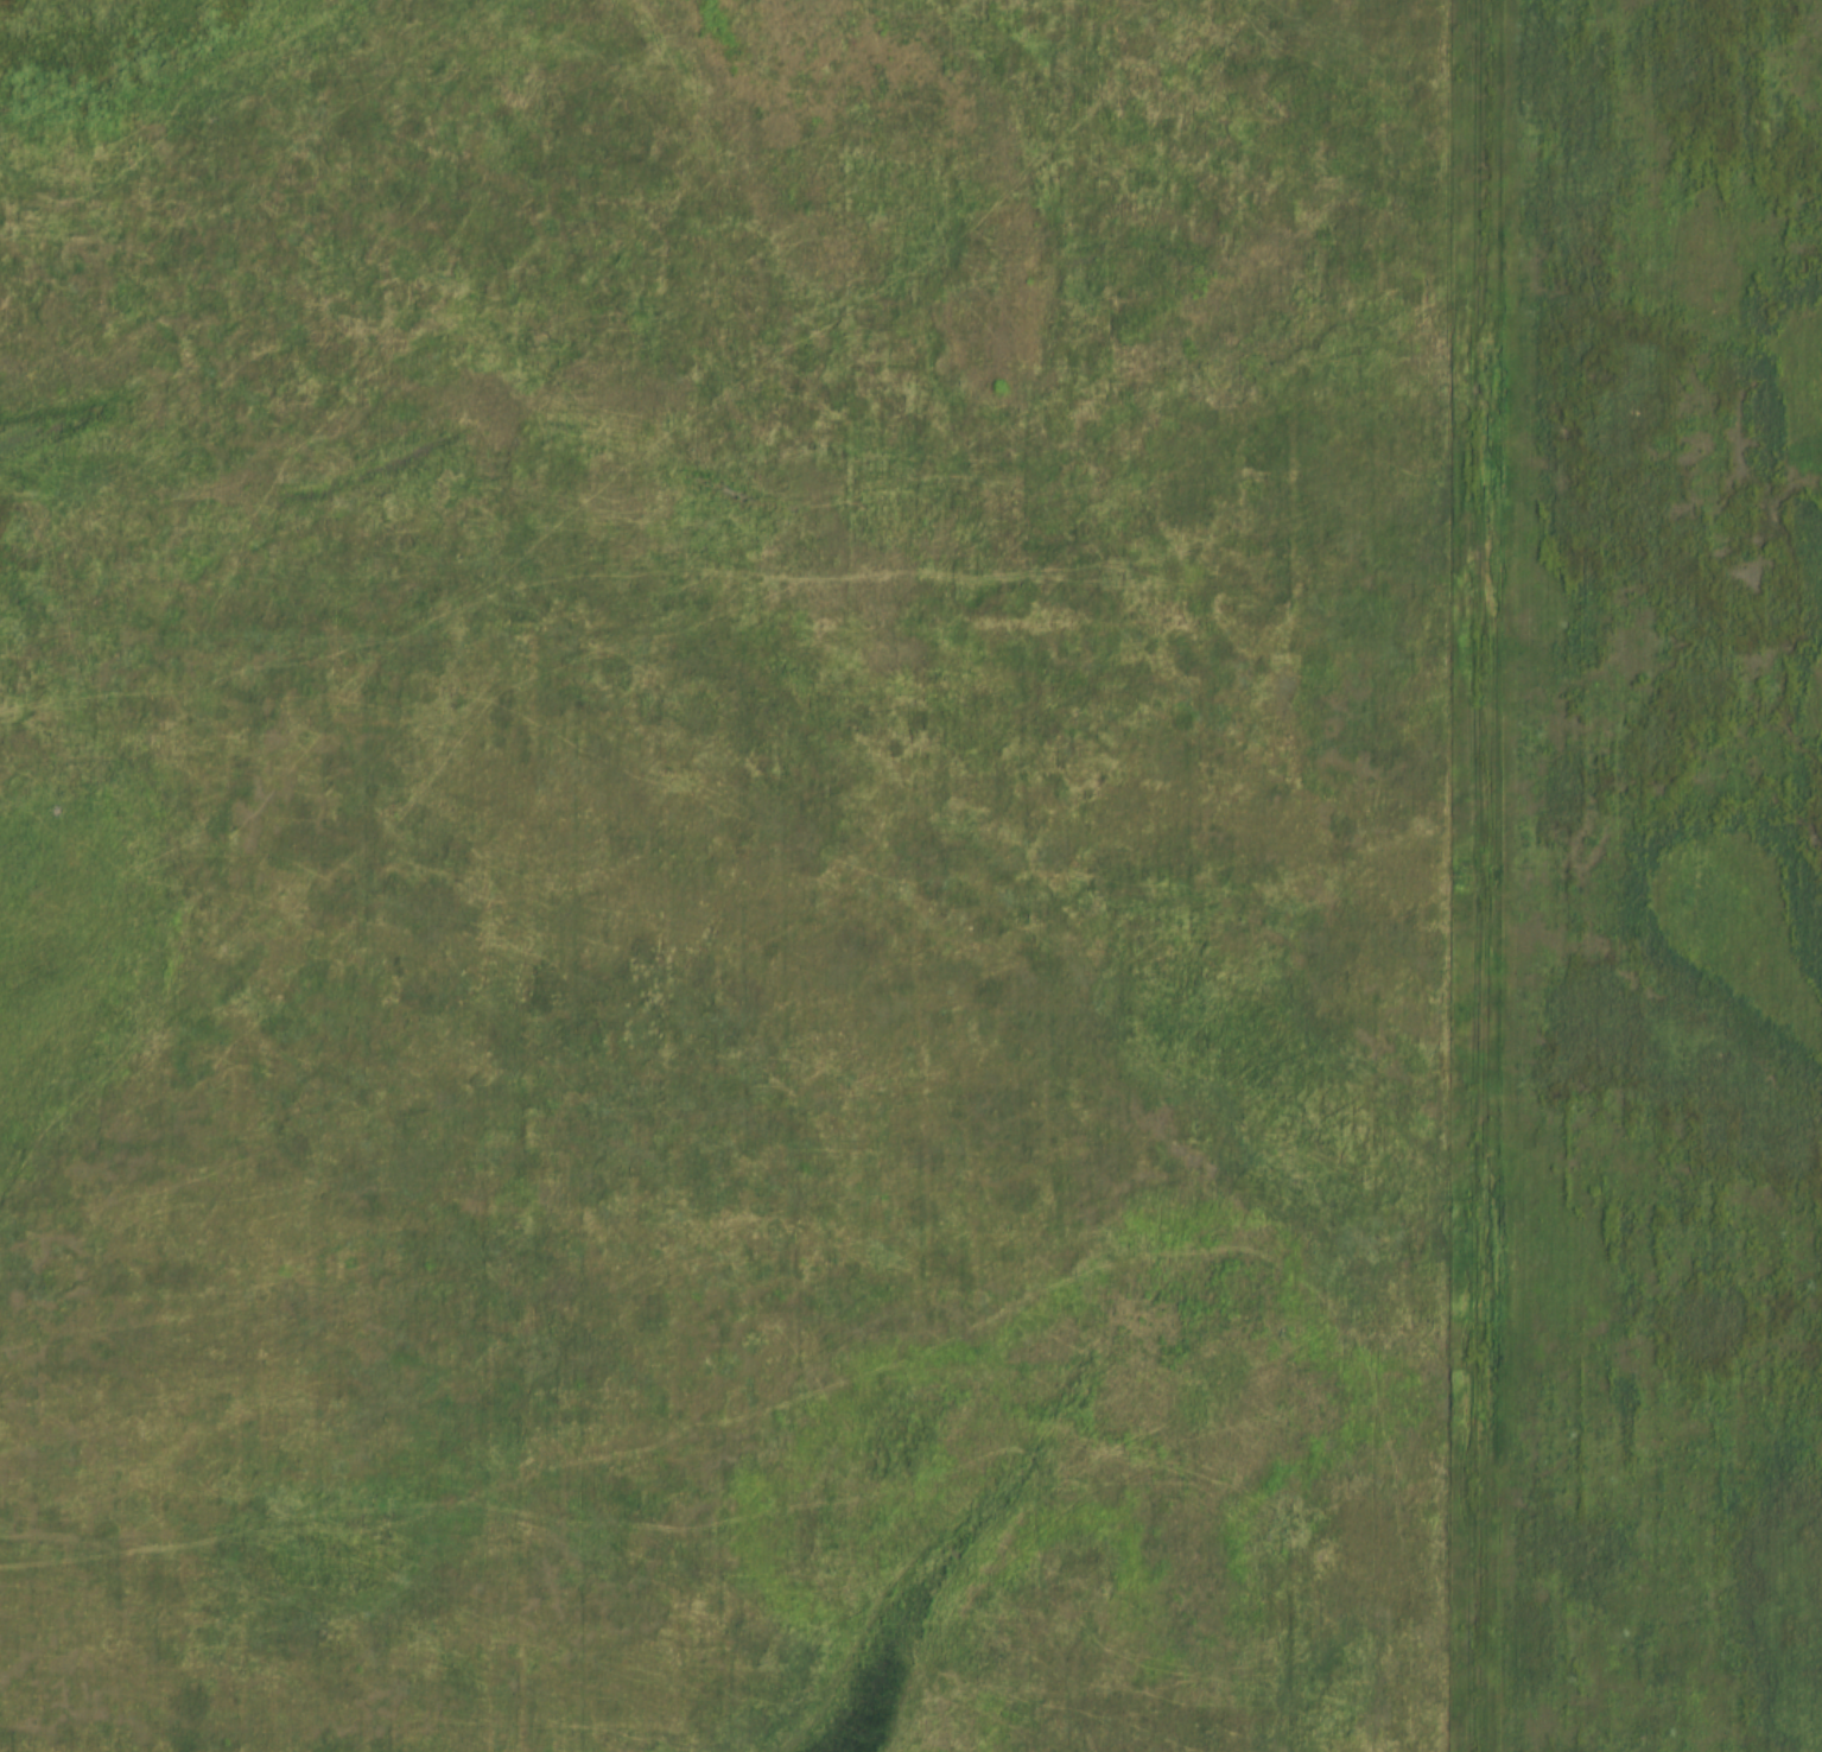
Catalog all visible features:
road: (1442, 876)

